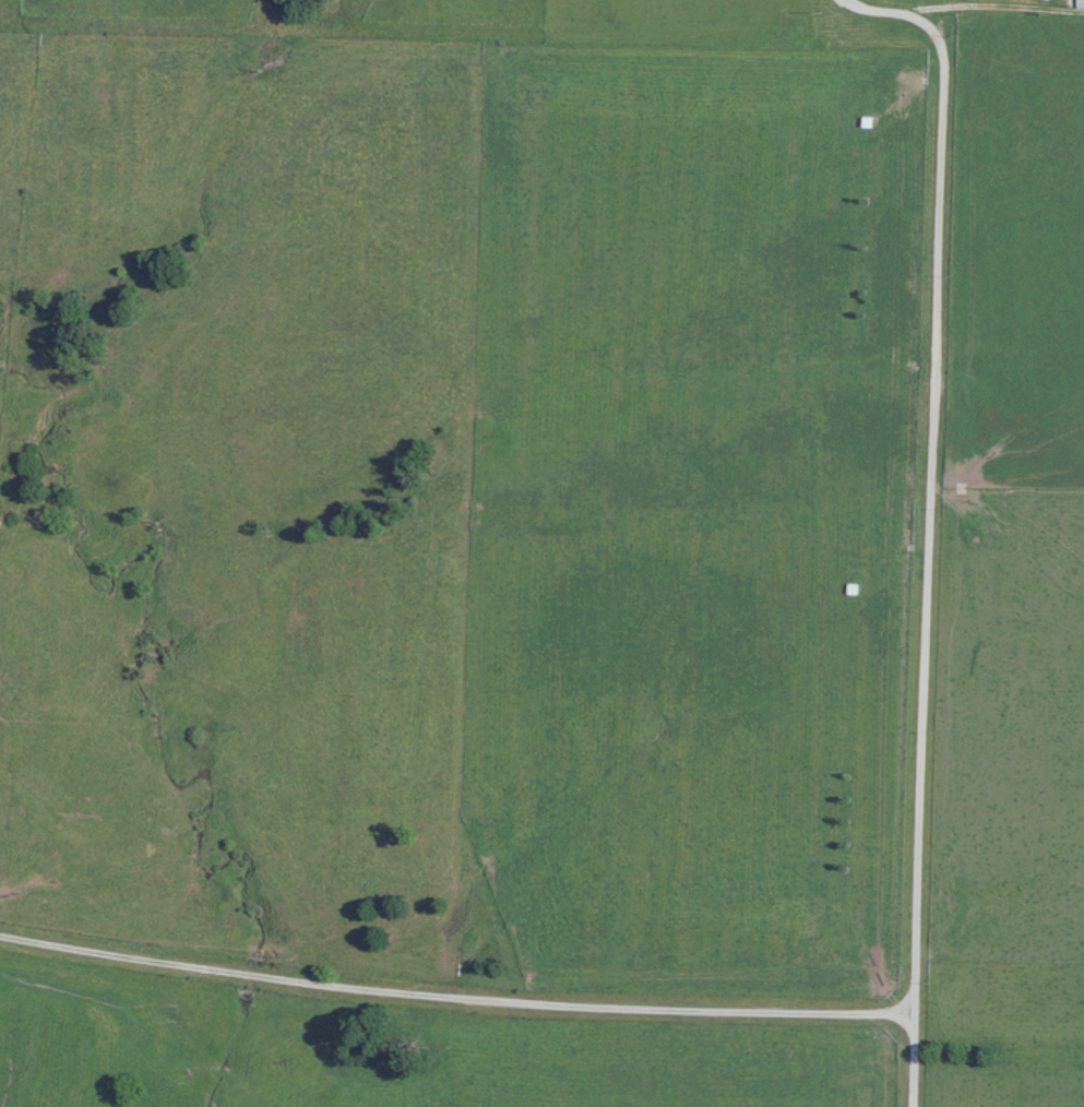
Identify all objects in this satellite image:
building: (1083, 3)
road: (450, 985)

